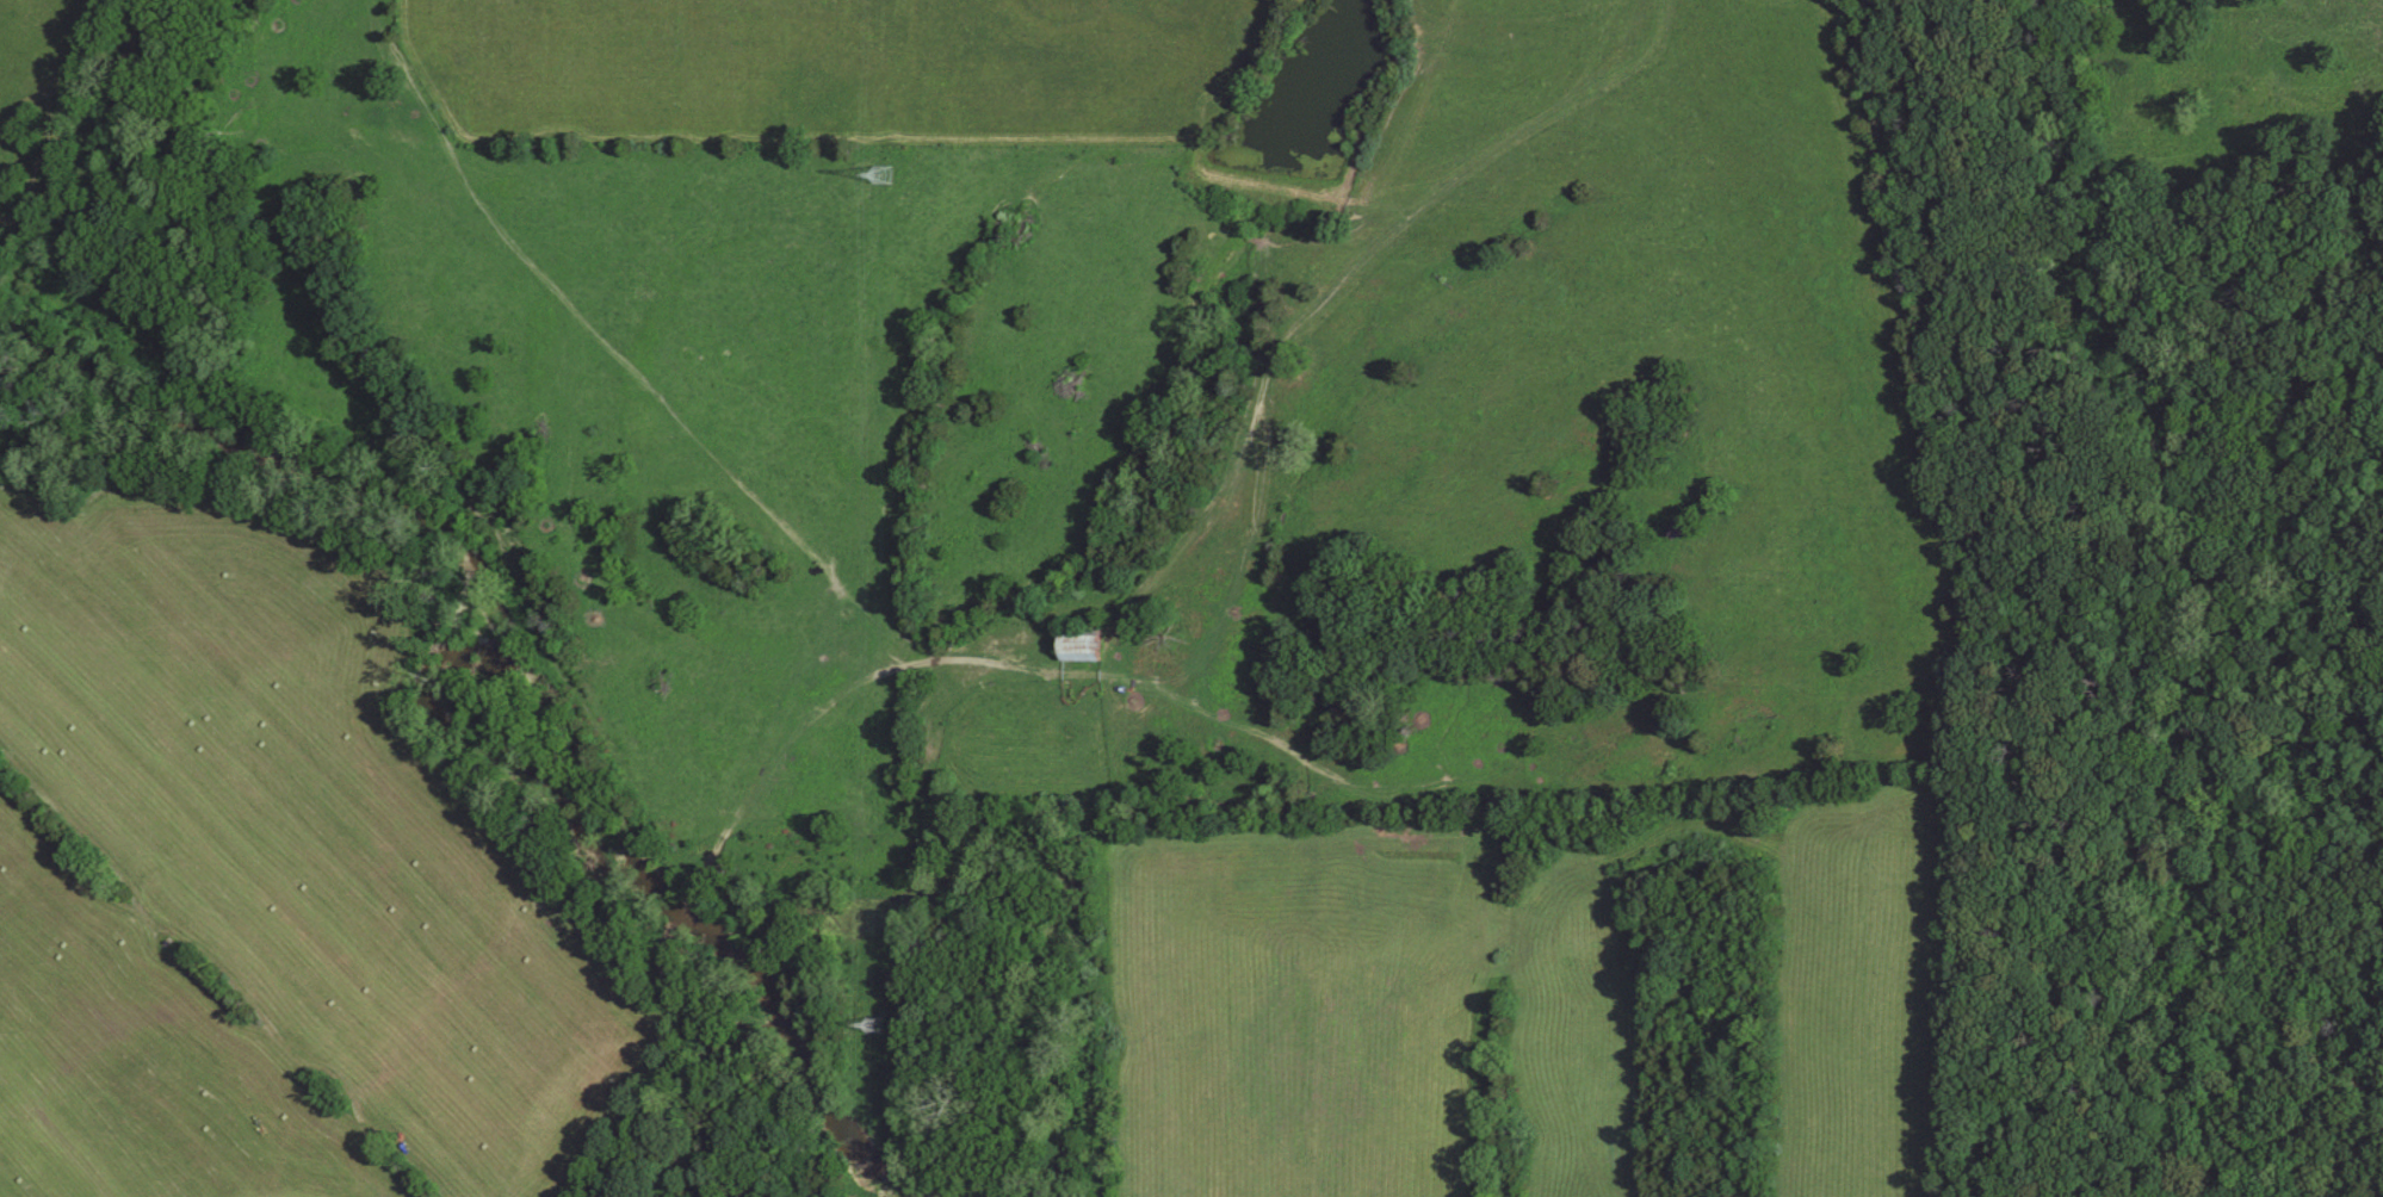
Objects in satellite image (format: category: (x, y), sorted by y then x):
power tower: (884, 174)
building: (1084, 645)
power tower: (871, 1028)

